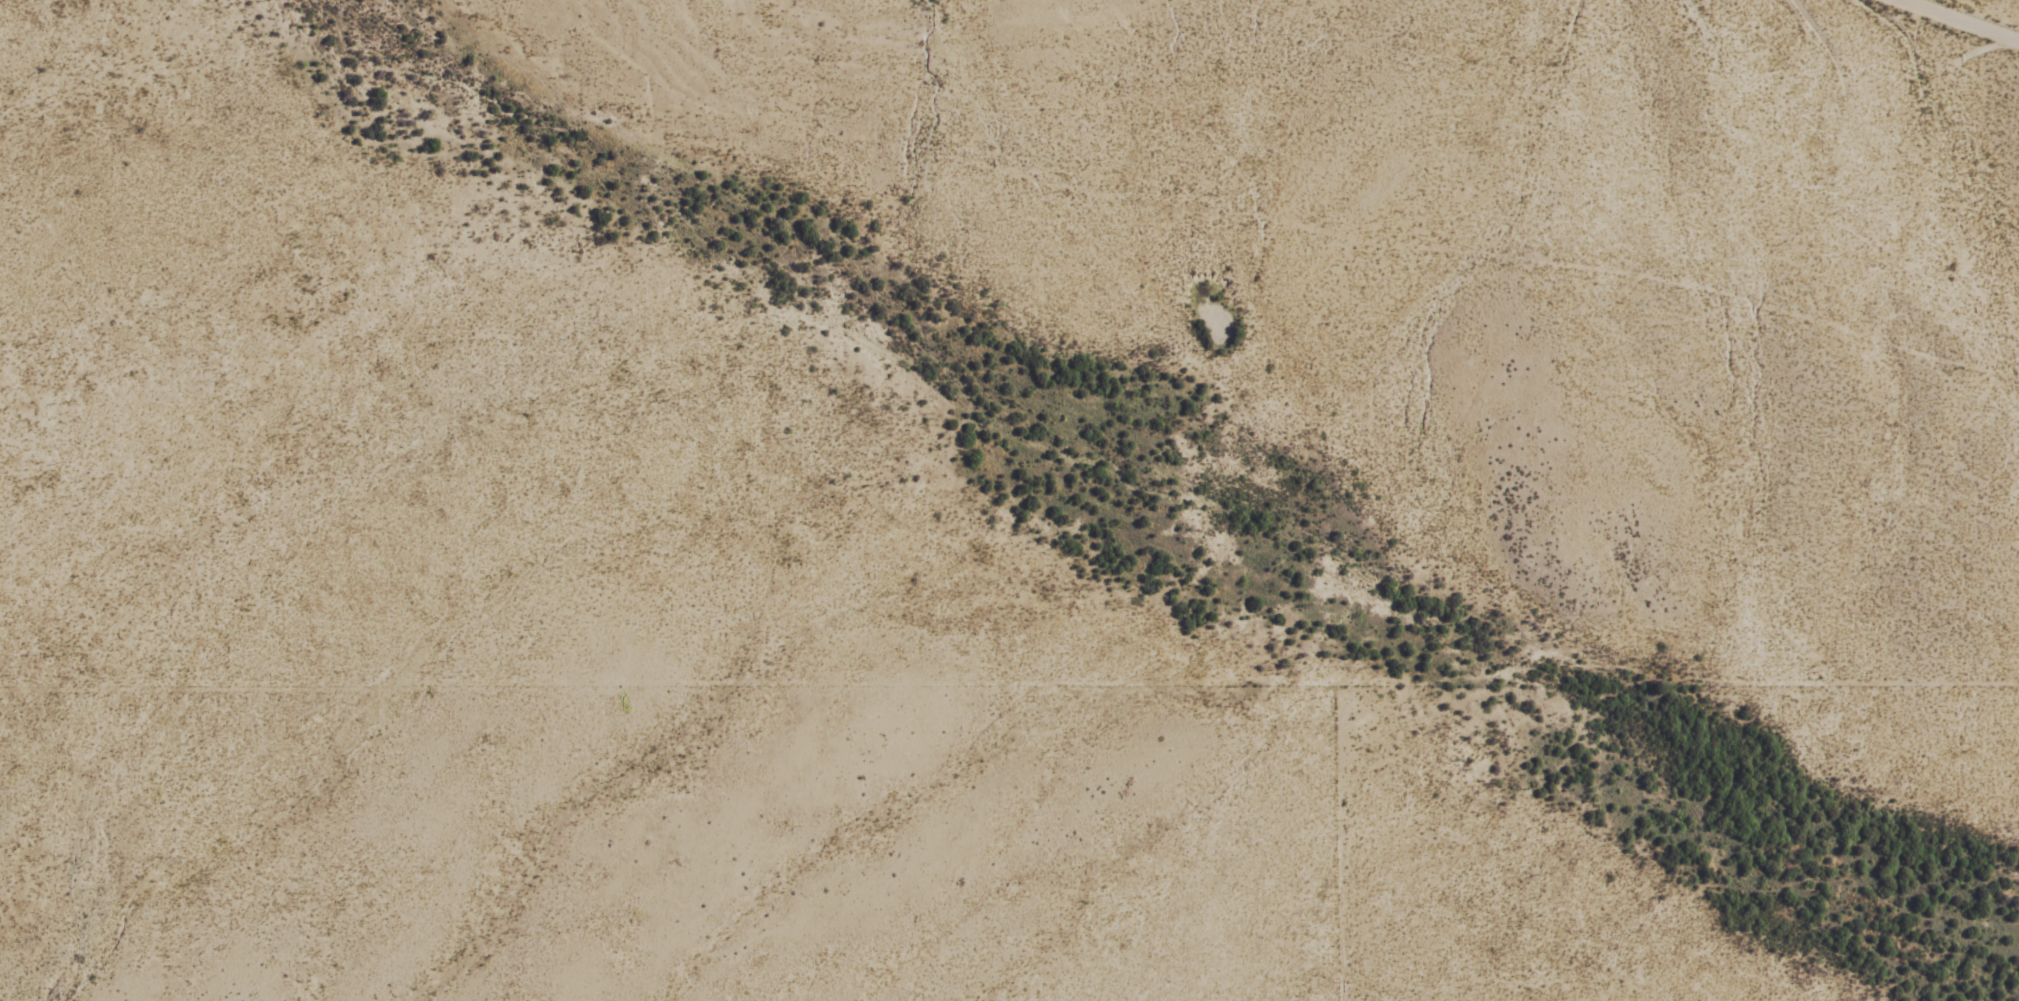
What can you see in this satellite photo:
road: (1957, 21)

